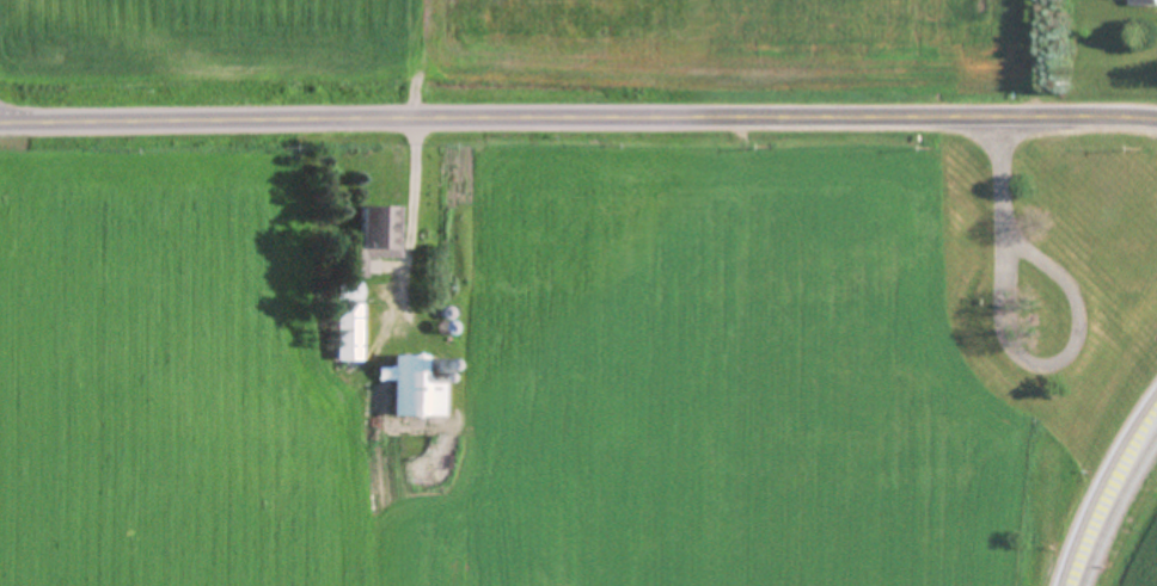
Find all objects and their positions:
building: (1140, 4)
road: (577, 122)
road: (414, 230)
building: (373, 234)
park: (1021, 285)
building: (344, 335)
road: (1009, 344)
building: (430, 401)
road: (1106, 495)

